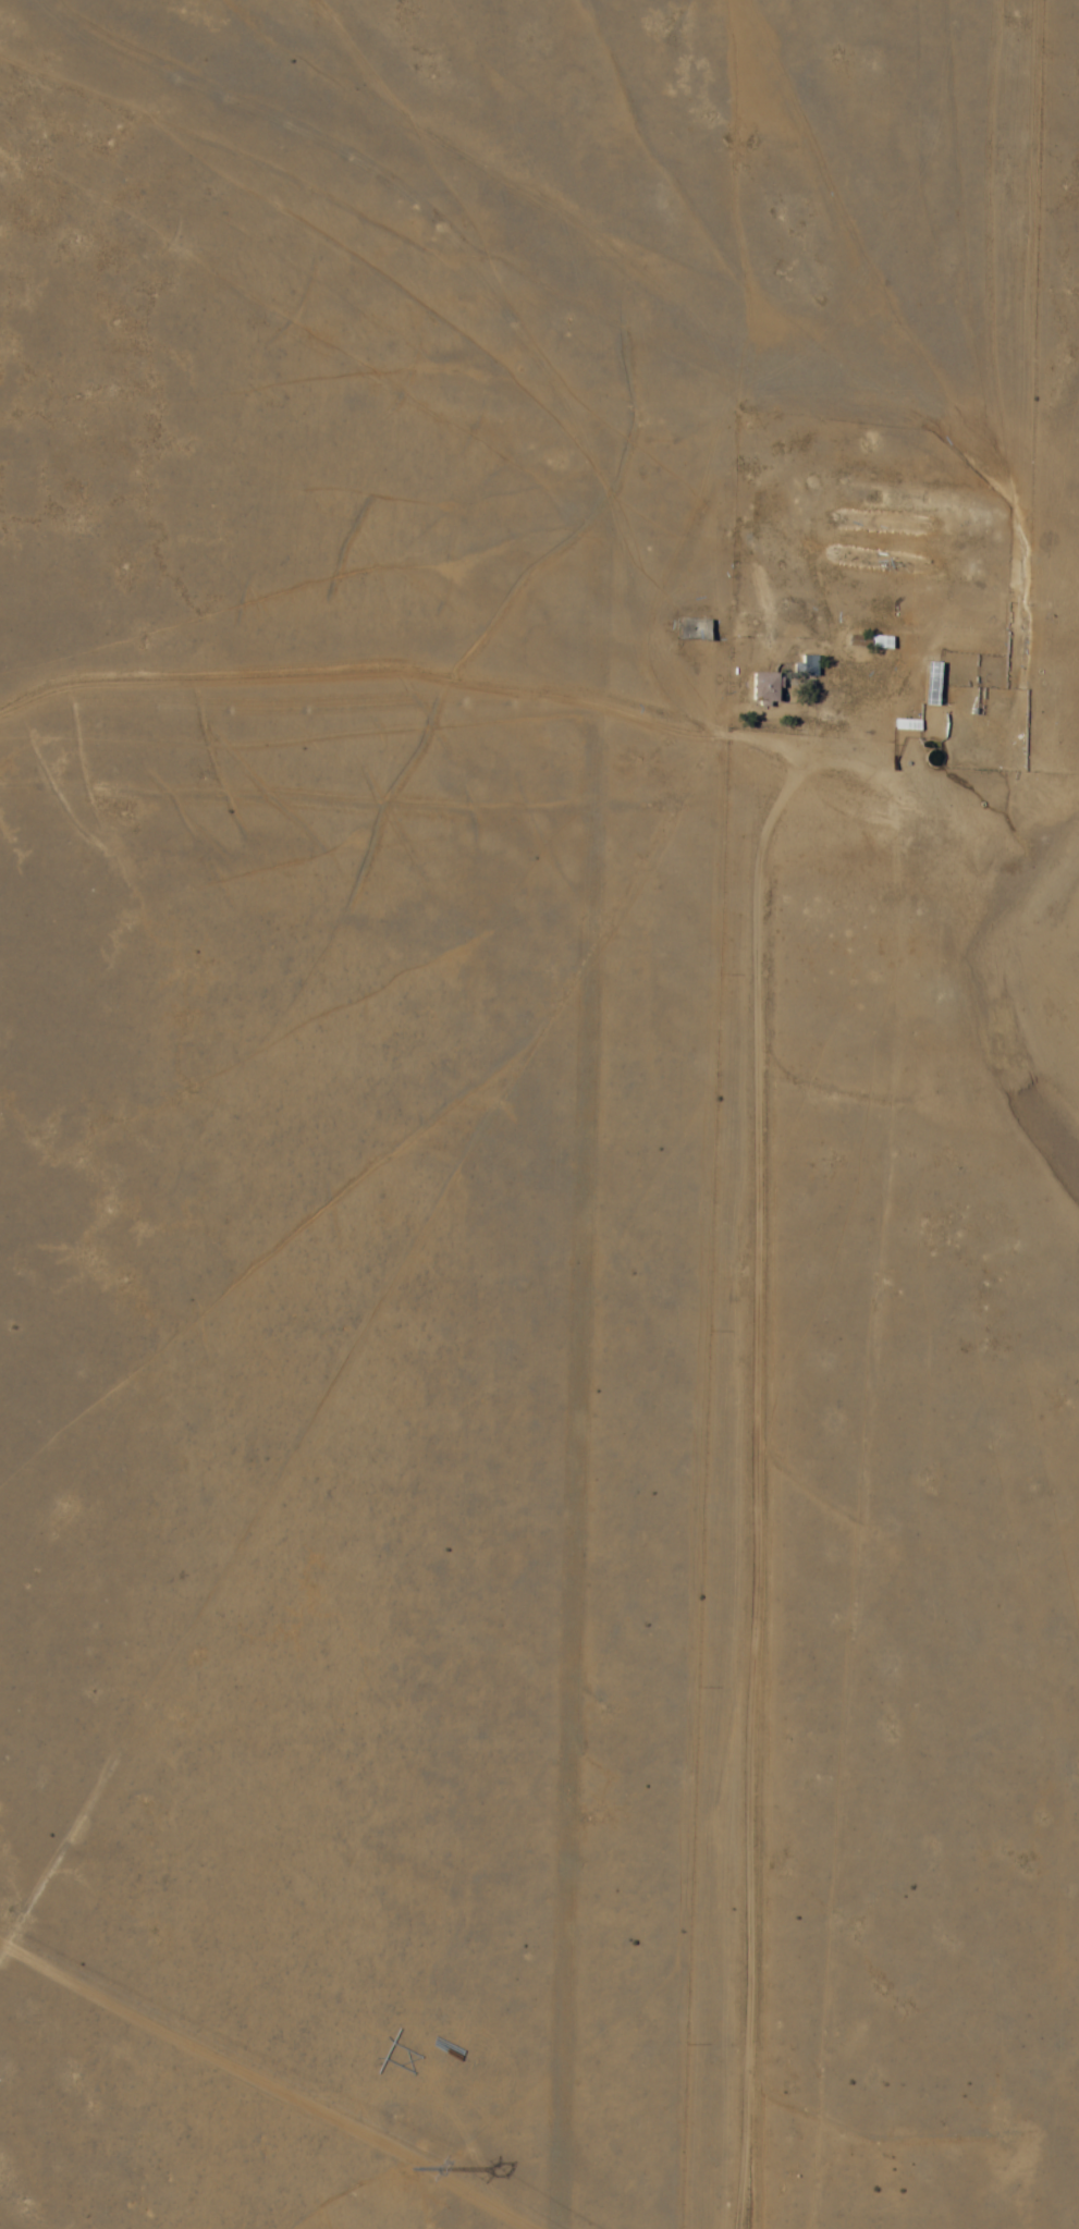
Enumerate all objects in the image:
road: (645, 132)
building: (692, 630)
building: (855, 641)
building: (878, 644)
building: (805, 669)
building: (929, 685)
building: (763, 688)
building: (947, 725)
road: (378, 803)
power tower: (409, 2169)

